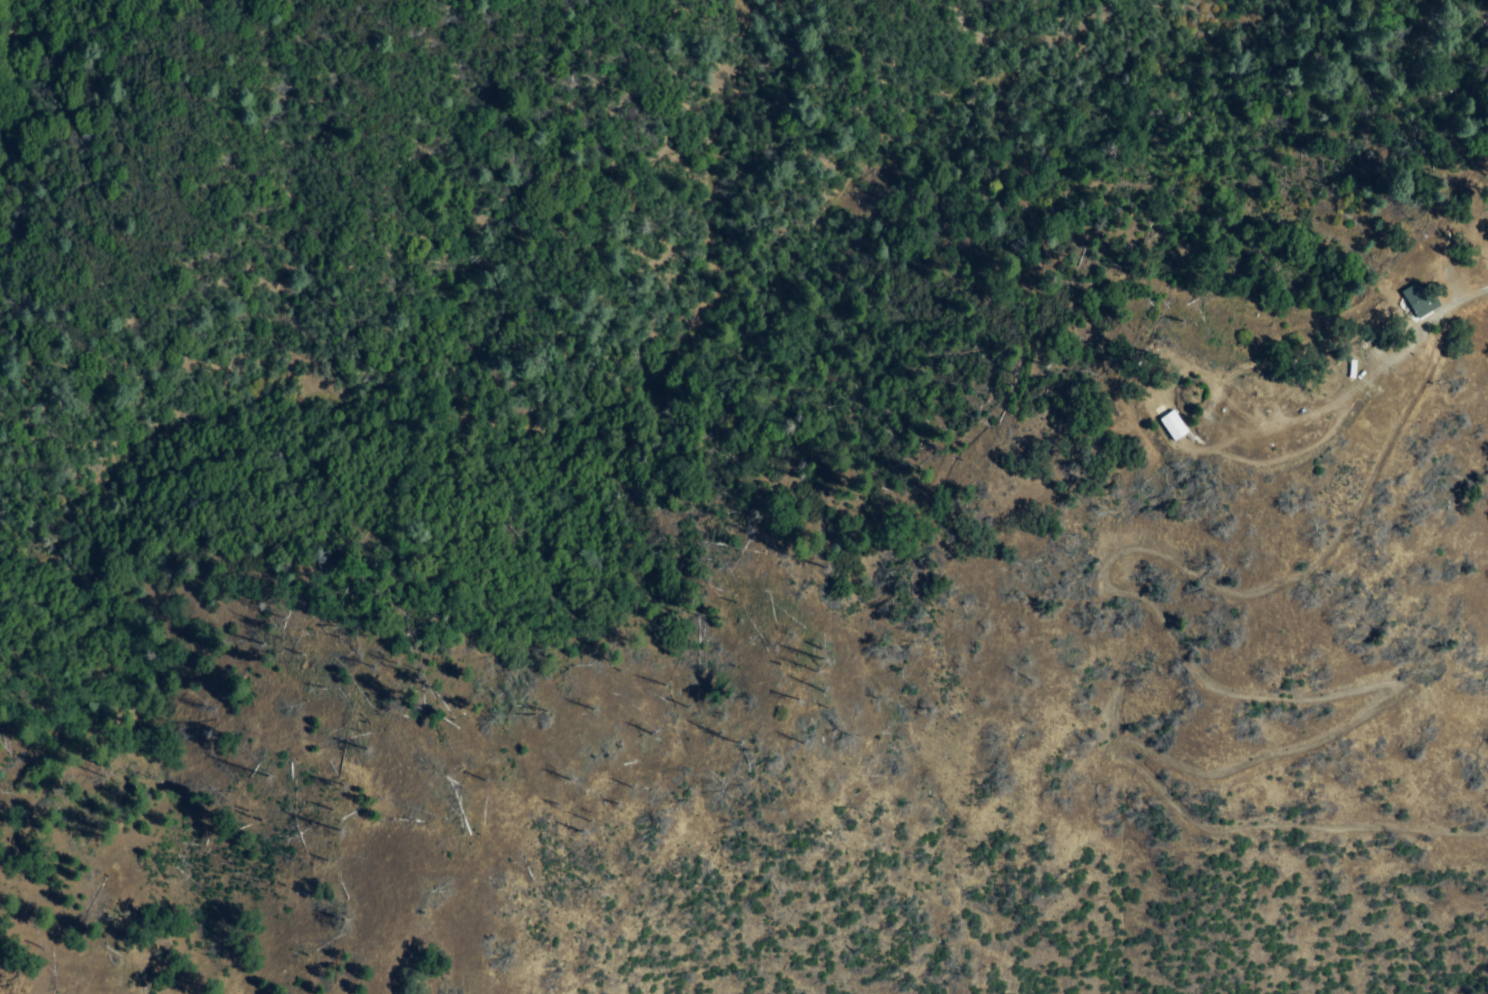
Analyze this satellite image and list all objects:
building: (1408, 302)
road: (1438, 309)
building: (1162, 428)

